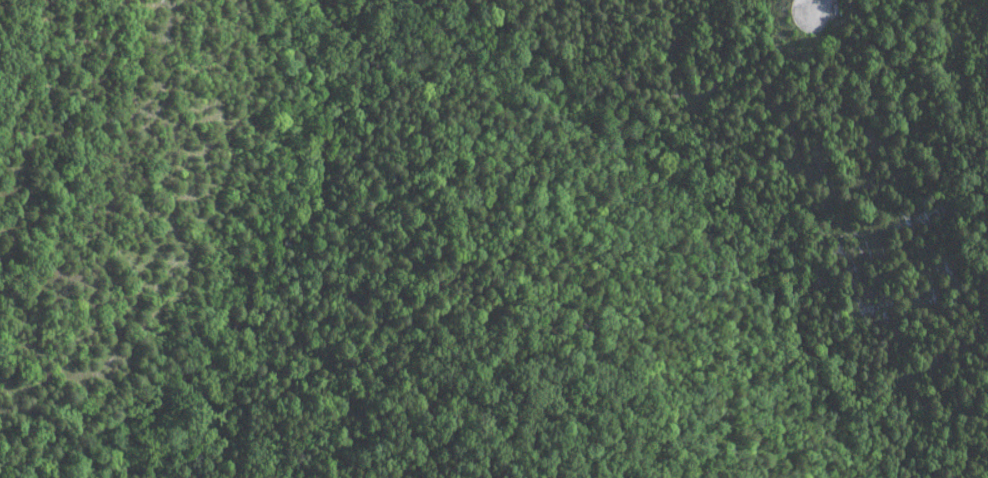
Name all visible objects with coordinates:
road: (812, 3)

